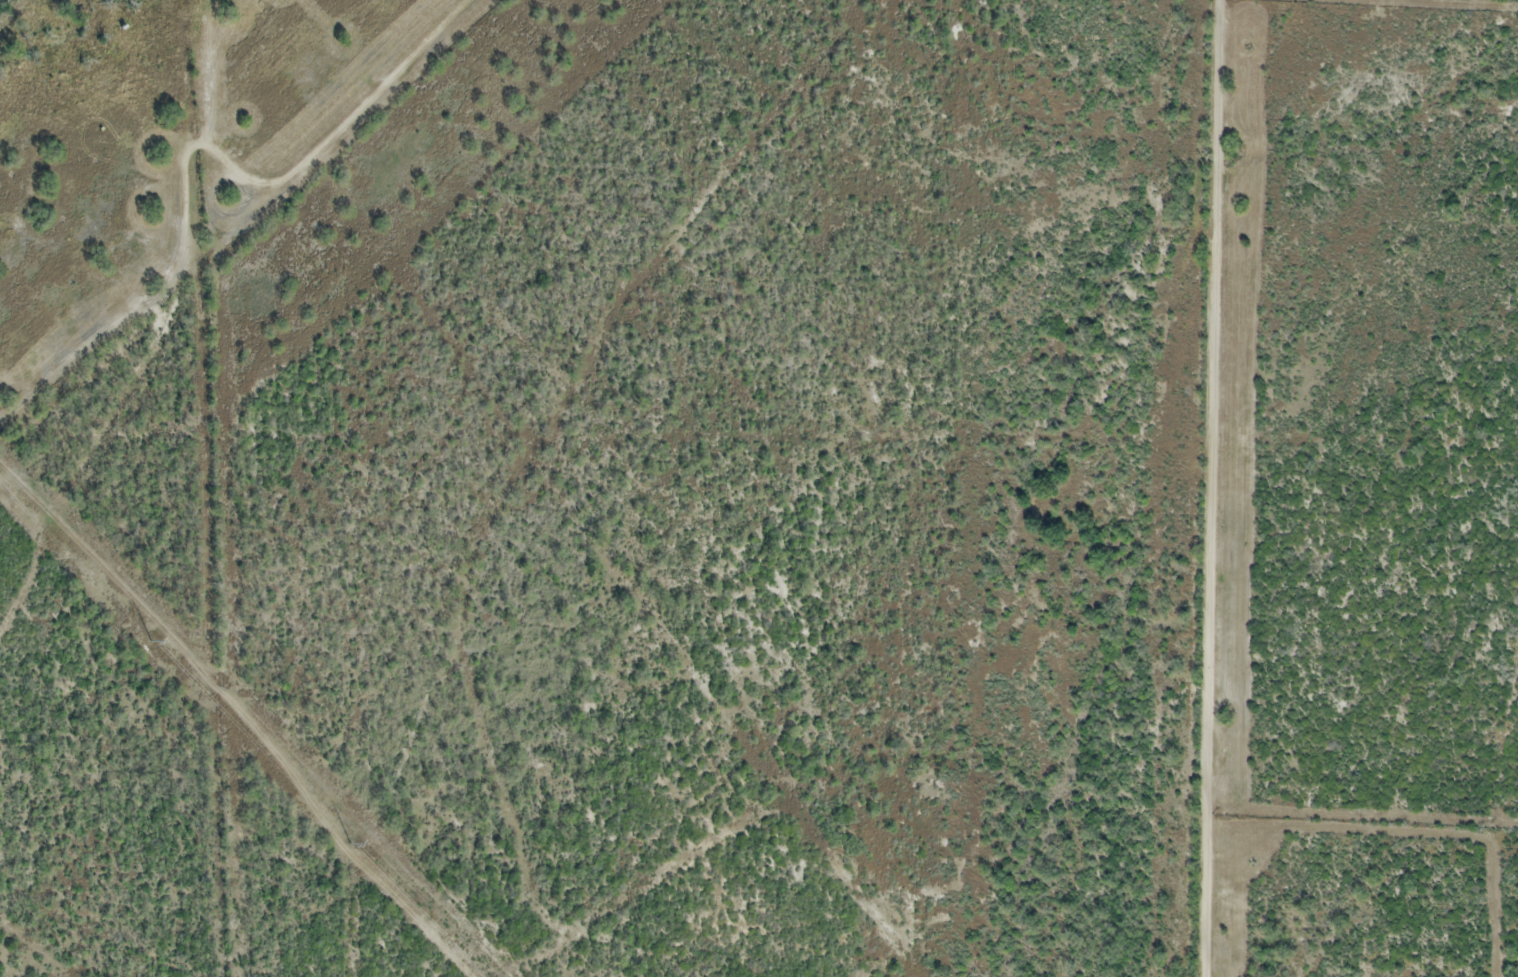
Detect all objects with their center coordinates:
road: (1211, 488)
power tower: (152, 644)
power tower: (351, 846)

